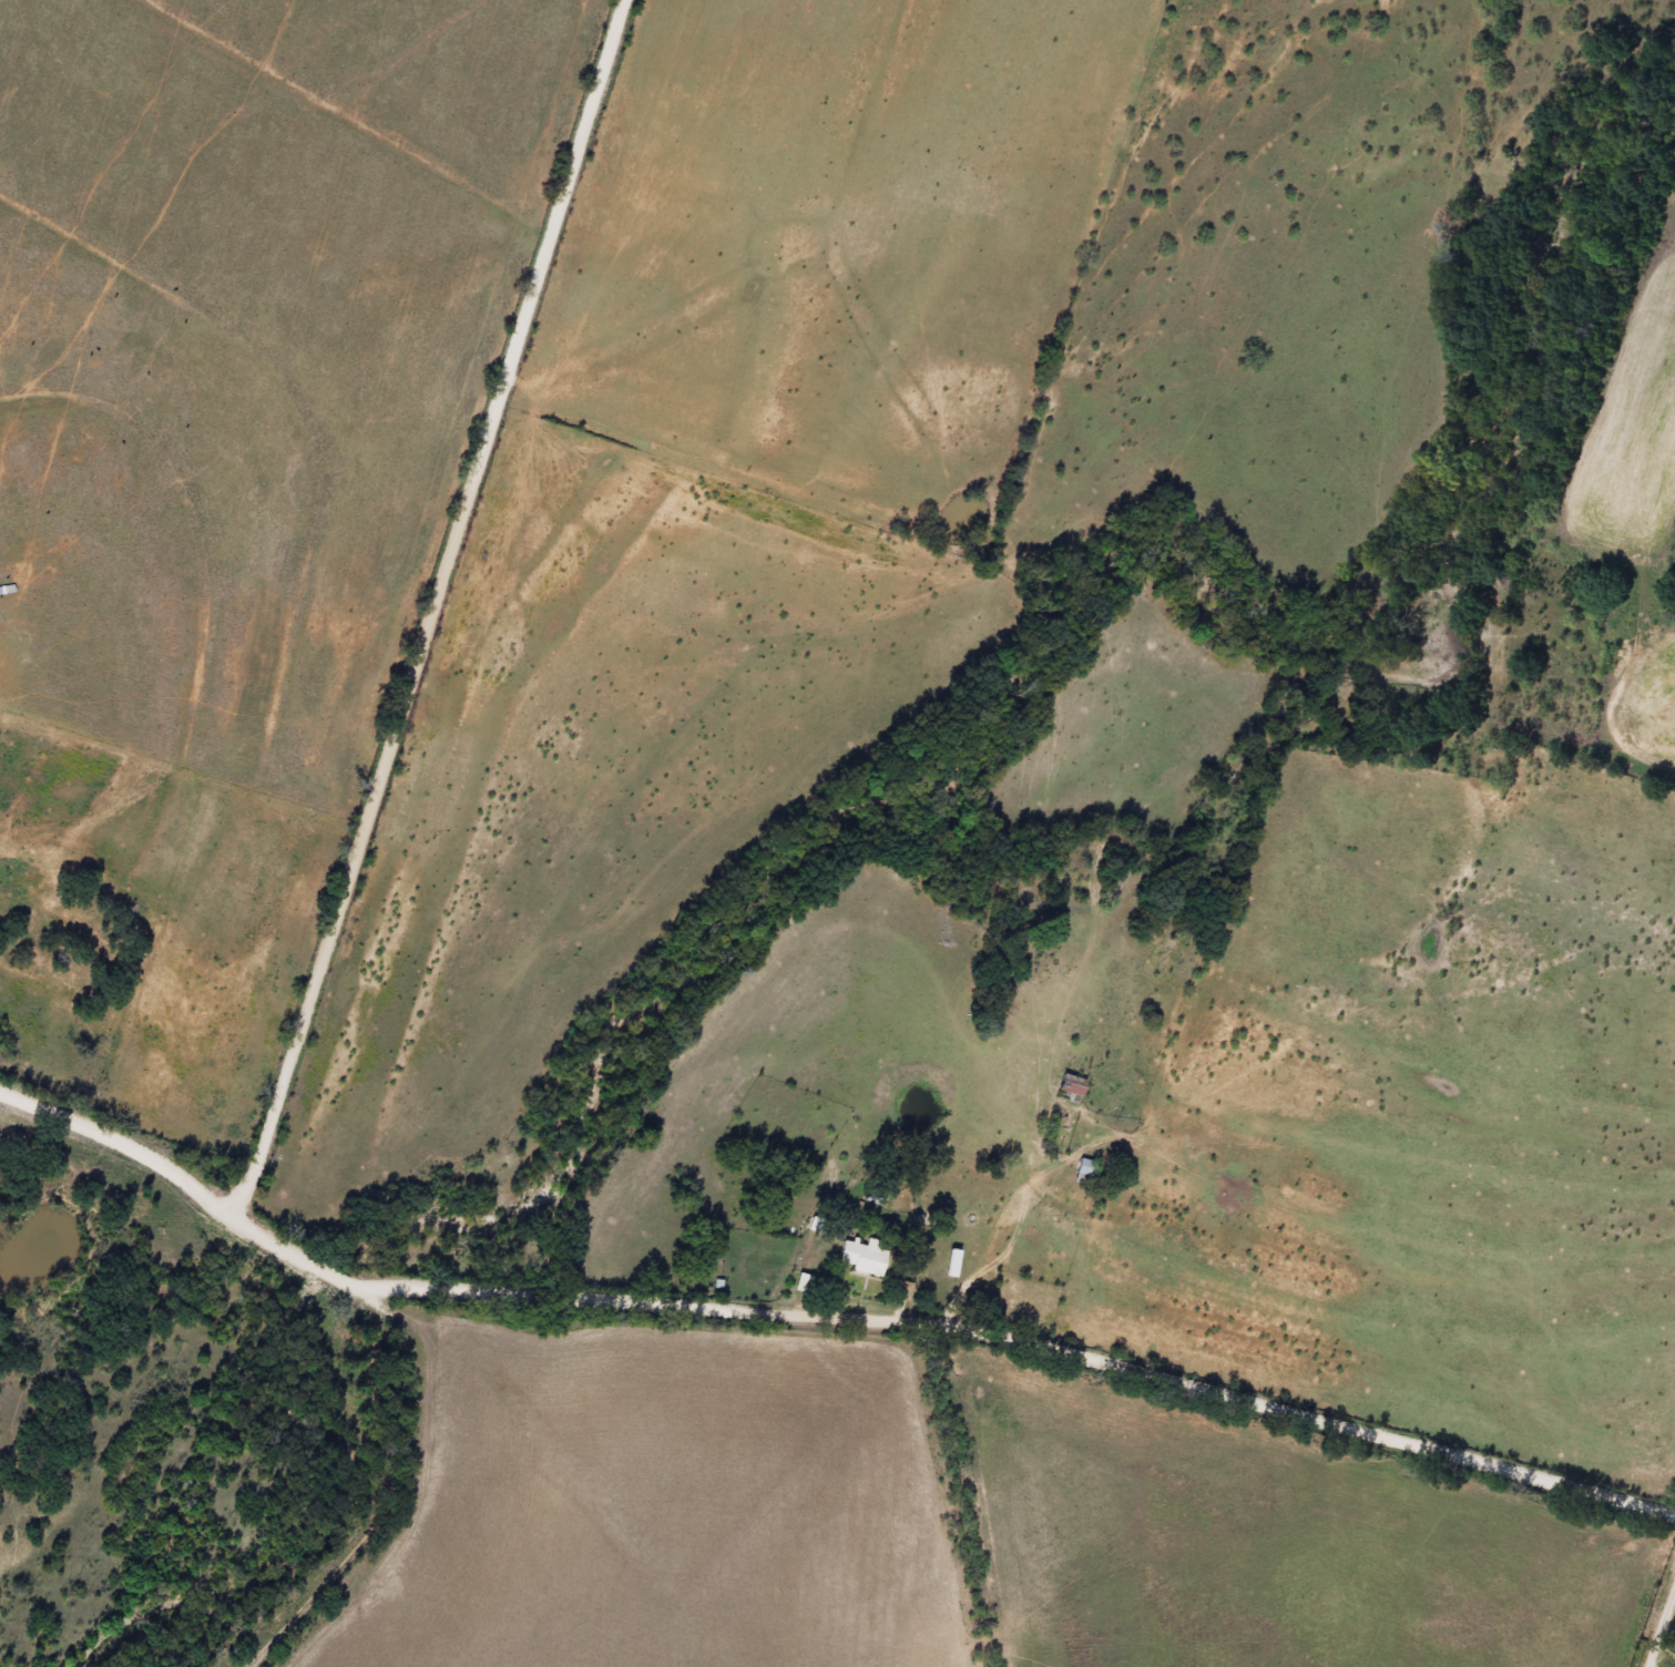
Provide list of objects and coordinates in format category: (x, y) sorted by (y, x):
road: (440, 595)
building: (1064, 1087)
road: (123, 1143)
building: (1082, 1170)
road: (289, 1224)
road: (364, 1248)
building: (858, 1252)
building: (946, 1262)
road: (1041, 1319)
road: (376, 1465)

